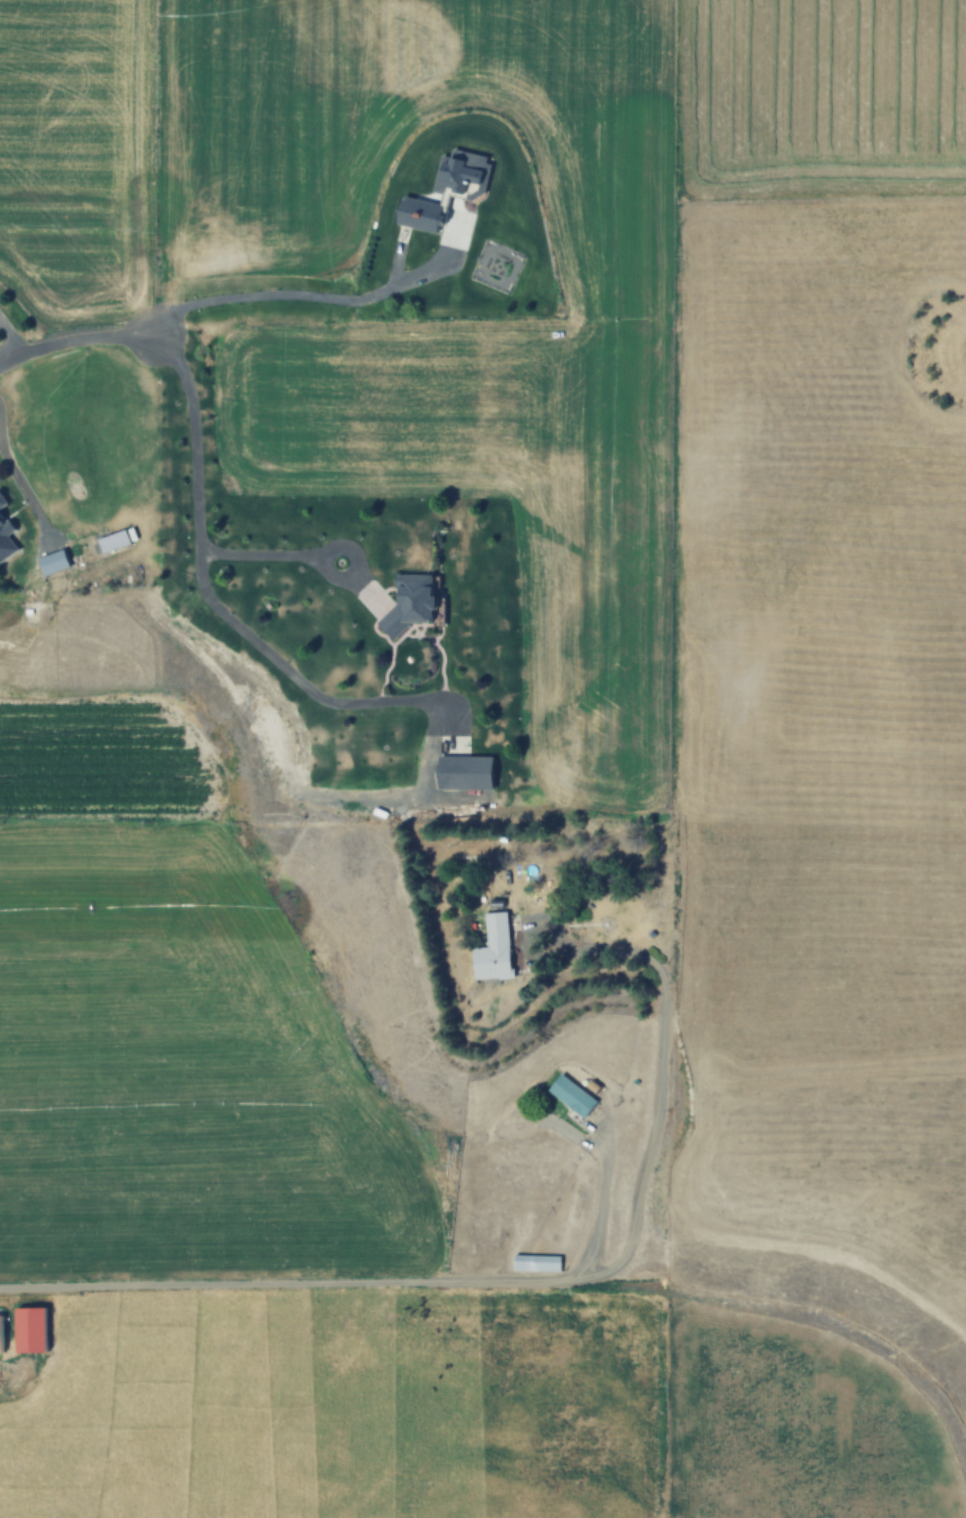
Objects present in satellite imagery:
road: (74, 337)
road: (286, 1285)

